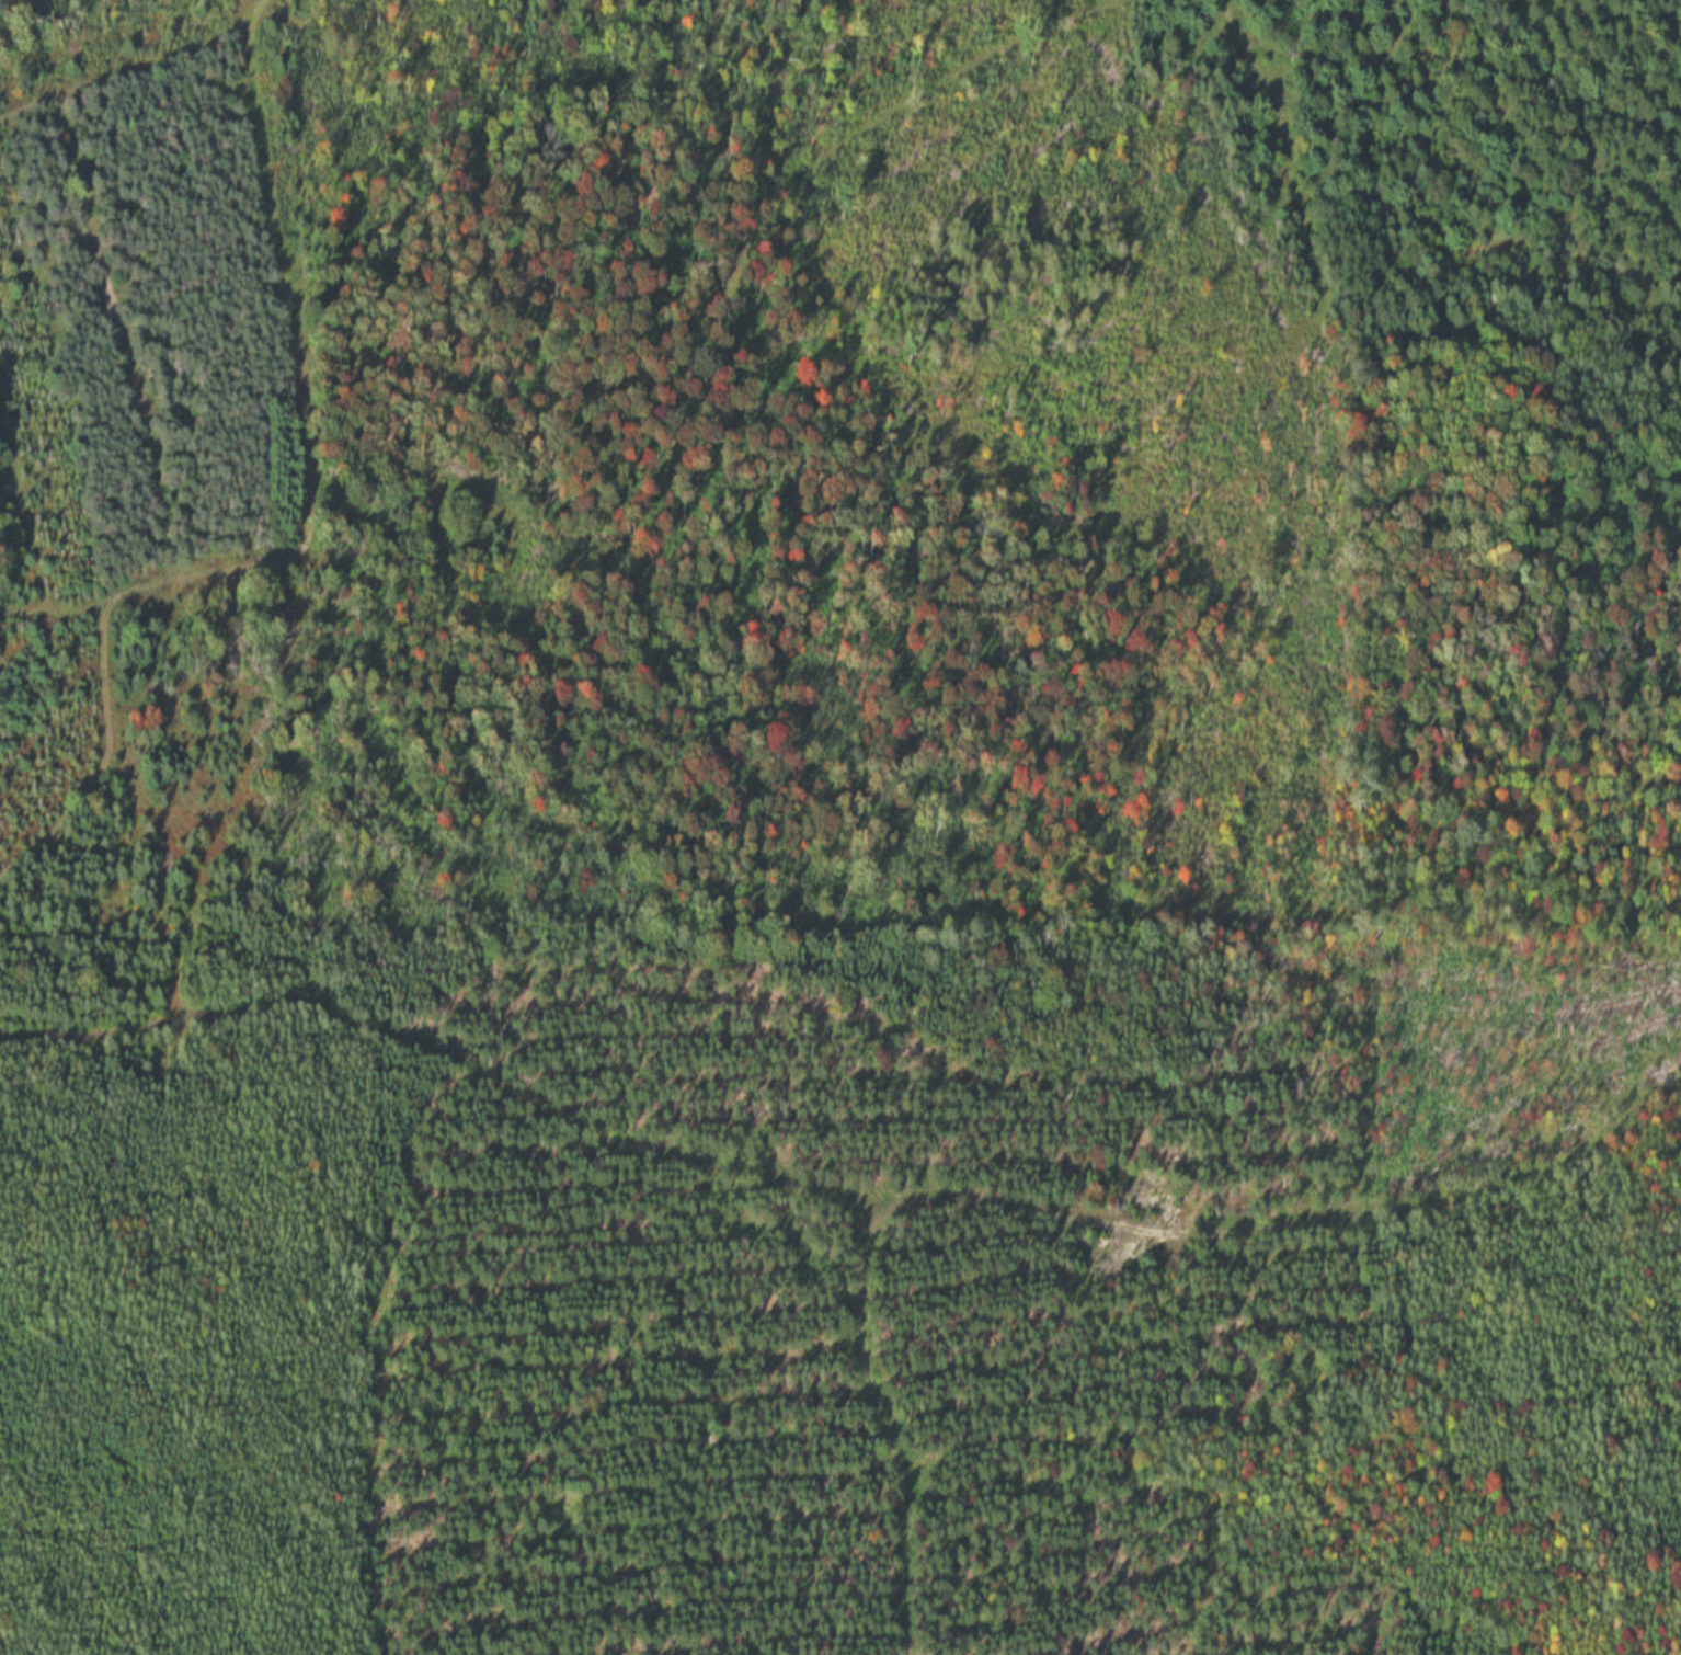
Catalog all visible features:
road: (442, 1064)
road: (1065, 1224)

